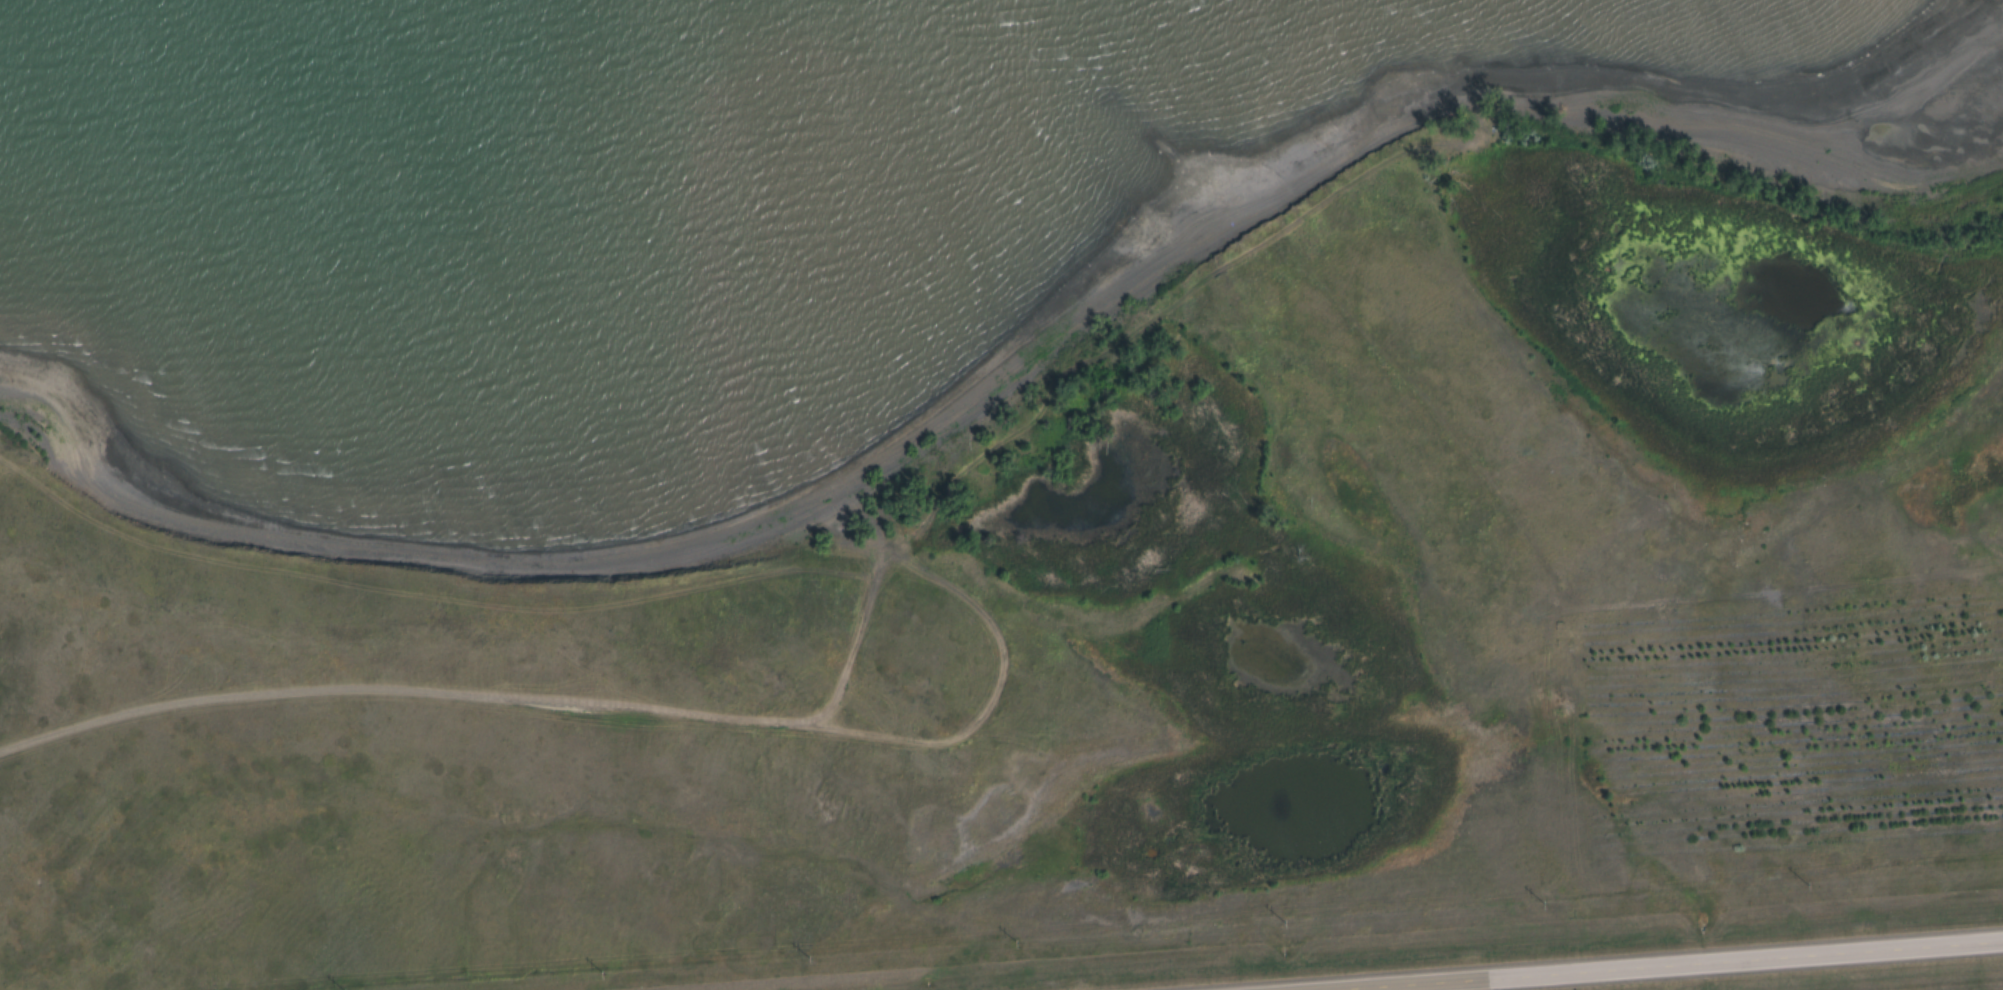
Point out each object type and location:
road: (1685, 966)
road: (1438, 987)

